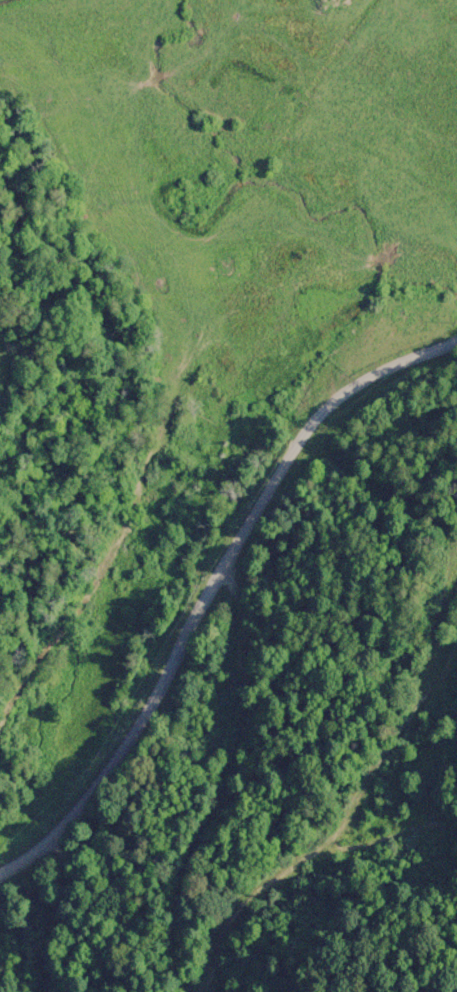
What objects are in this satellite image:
road: (215, 588)

